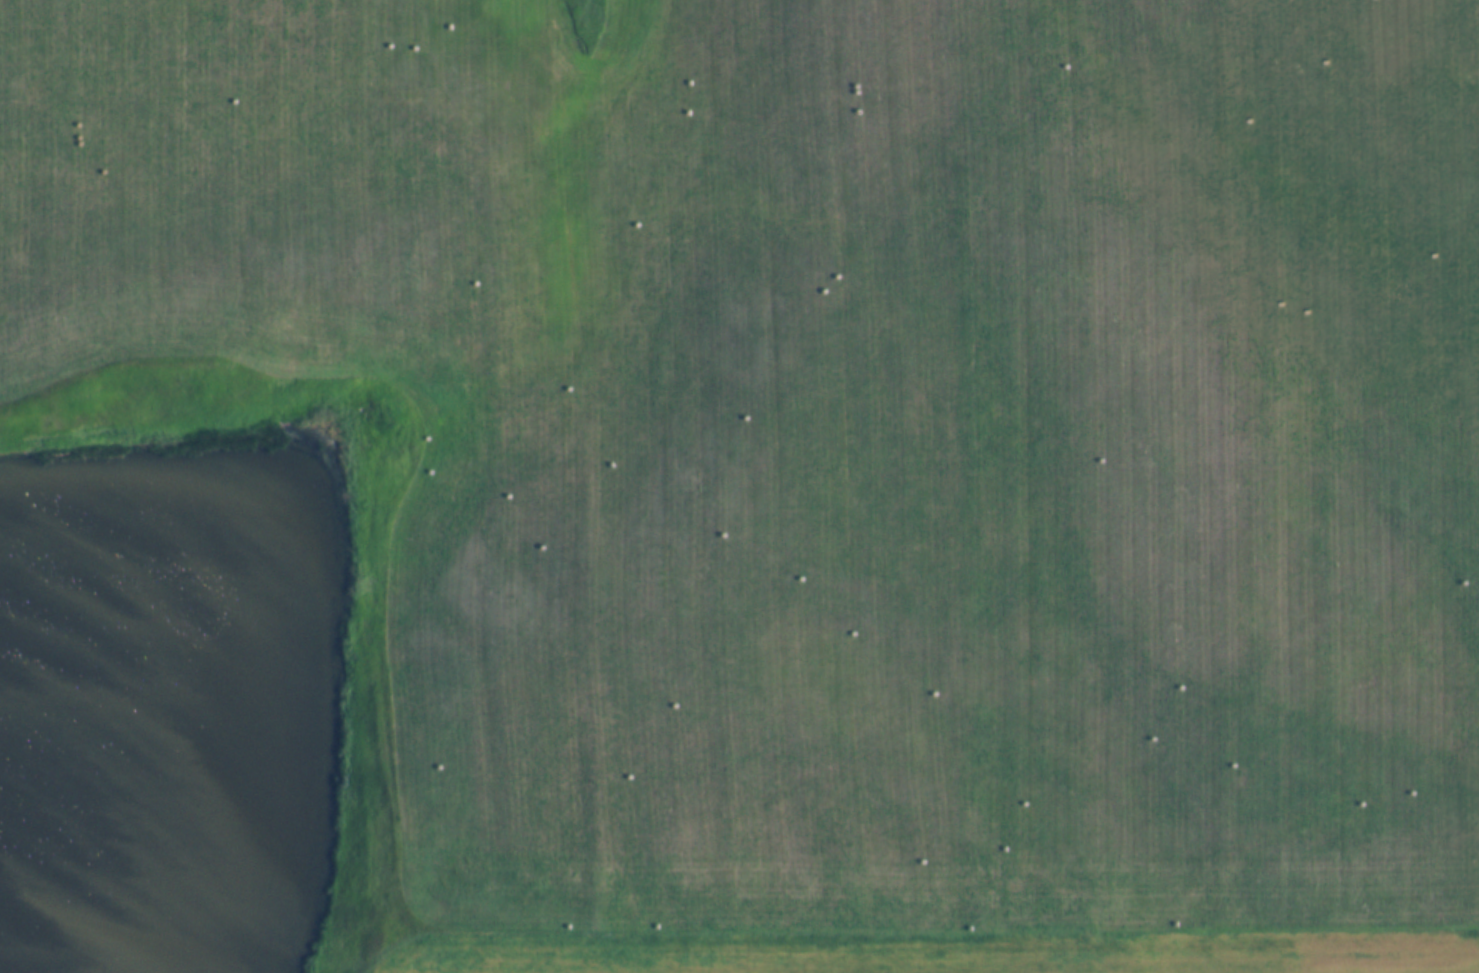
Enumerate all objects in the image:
crop: (965, 949)

